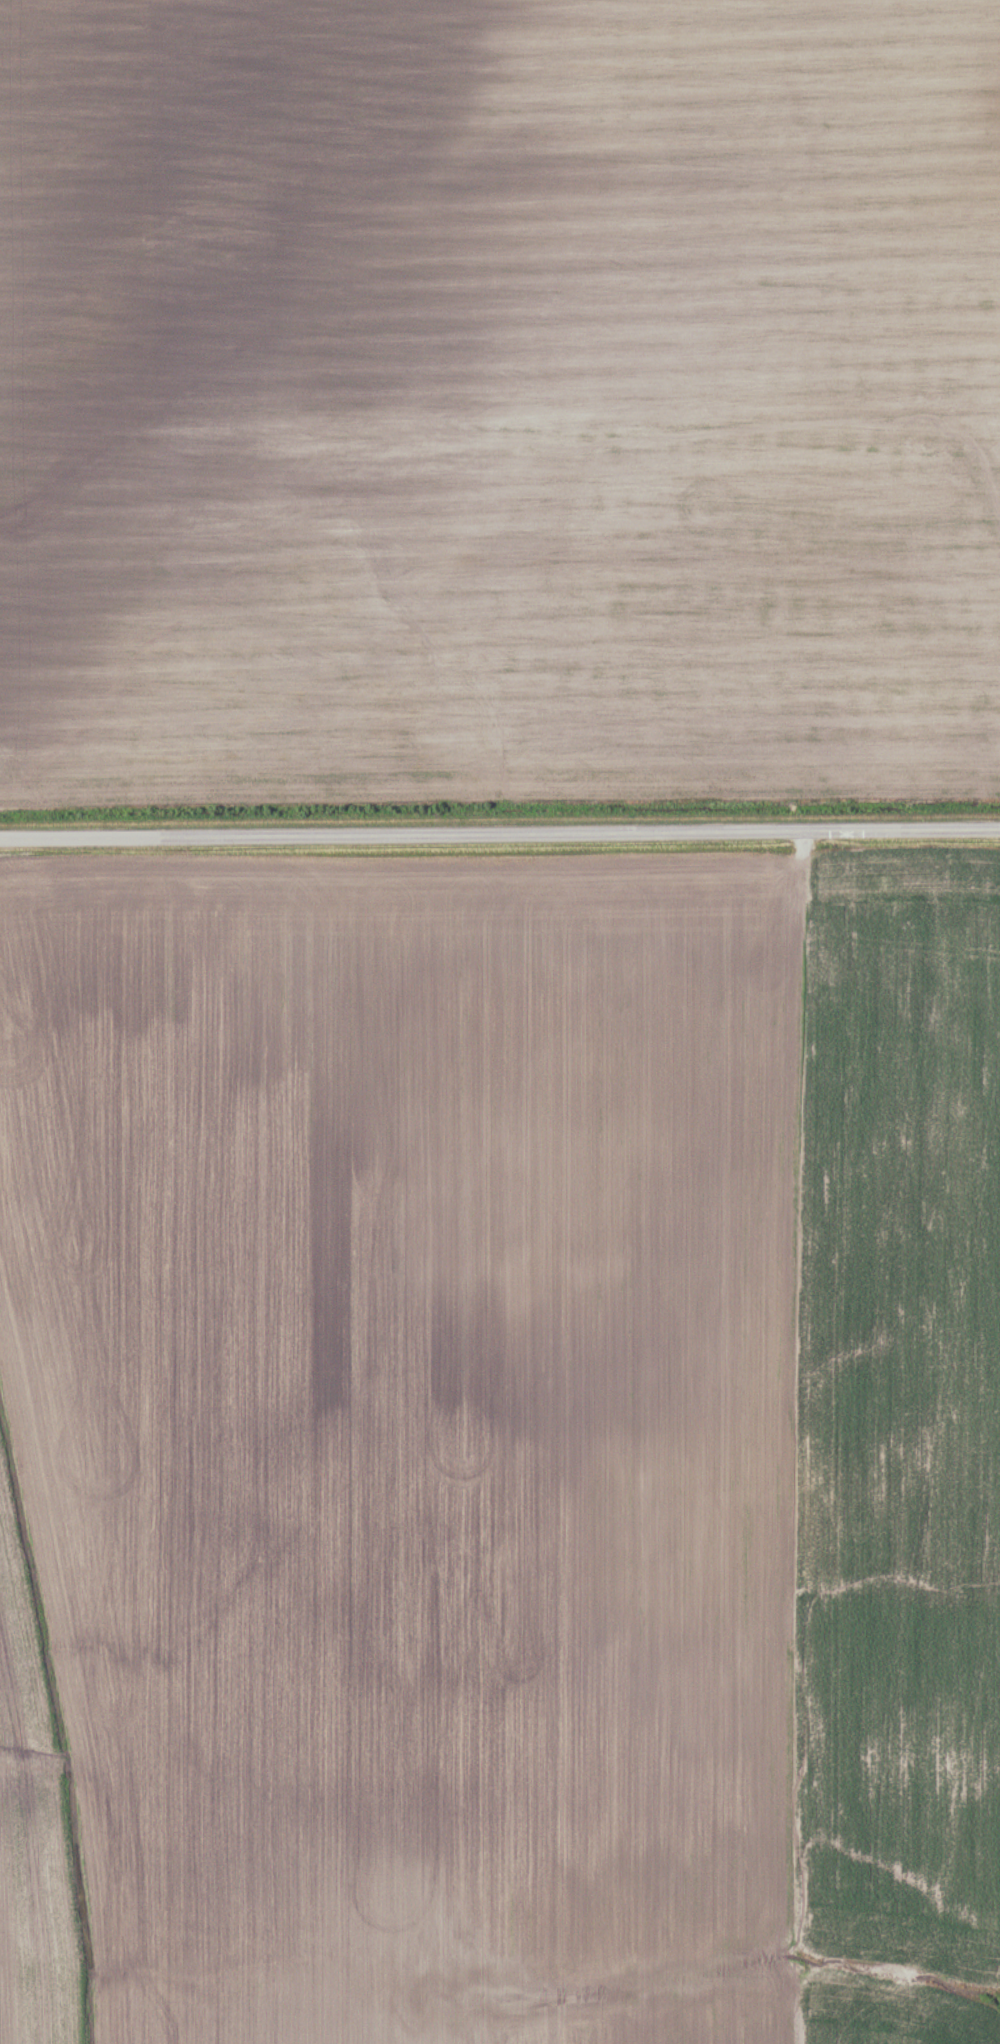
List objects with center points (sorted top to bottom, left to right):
road: (500, 837)
road: (57, 1730)

